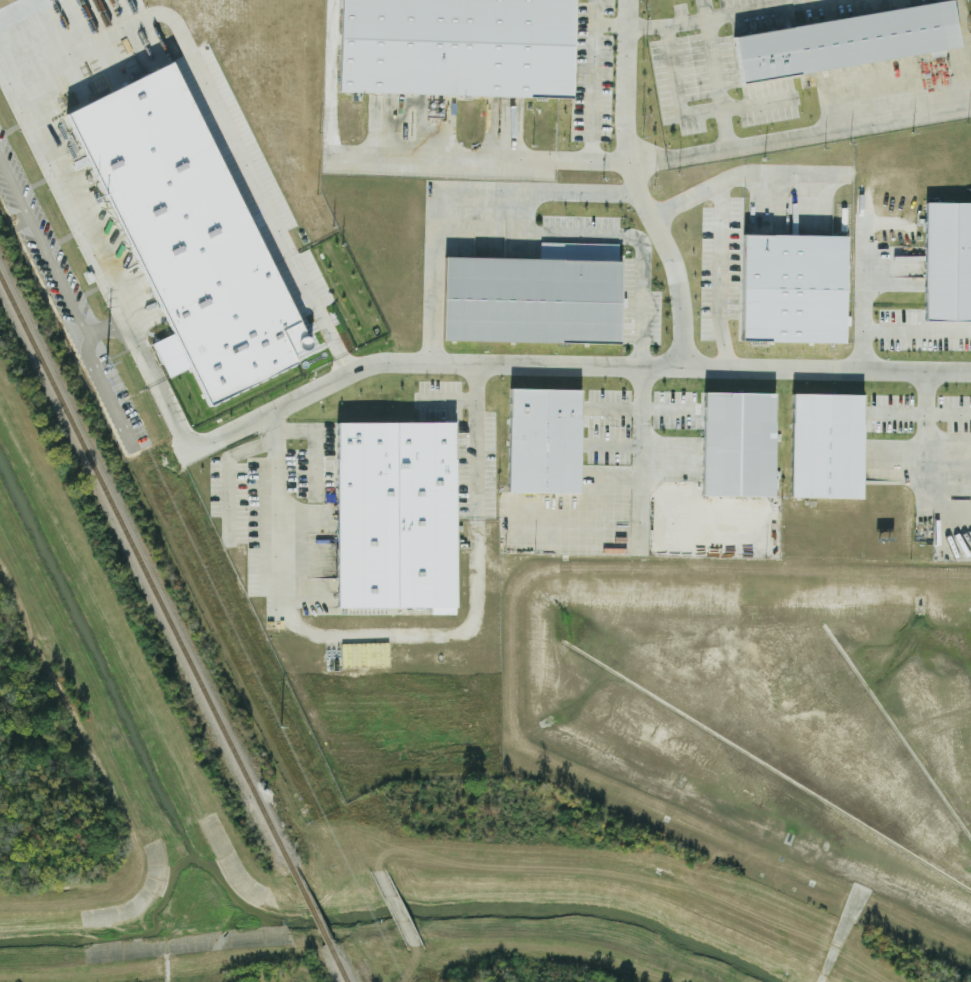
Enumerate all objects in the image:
road: (724, 12)
road: (637, 25)
road: (964, 41)
building: (844, 42)
building: (455, 47)
road: (49, 72)
road: (9, 76)
road: (717, 81)
road: (593, 92)
road: (818, 130)
road: (452, 155)
road: (648, 160)
road: (779, 170)
road: (780, 185)
road: (453, 190)
building: (195, 235)
road: (719, 236)
road: (625, 238)
road: (41, 247)
building: (947, 263)
building: (792, 290)
building: (530, 299)
road: (862, 305)
road: (681, 322)
road: (105, 326)
road: (914, 332)
power tower: (96, 354)
road: (464, 366)
road: (104, 389)
road: (452, 399)
road: (922, 413)
road: (925, 435)
building: (542, 438)
road: (477, 443)
building: (737, 443)
building: (826, 443)
road: (641, 457)
road: (661, 459)
road: (920, 460)
road: (275, 512)
building: (396, 514)
road: (947, 517)
railway: (145, 573)
road: (423, 633)
building: (365, 655)
power tower: (280, 729)
river: (406, 904)
railway: (310, 908)
road: (395, 910)
road: (525, 954)
railway: (337, 964)
road: (420, 964)

